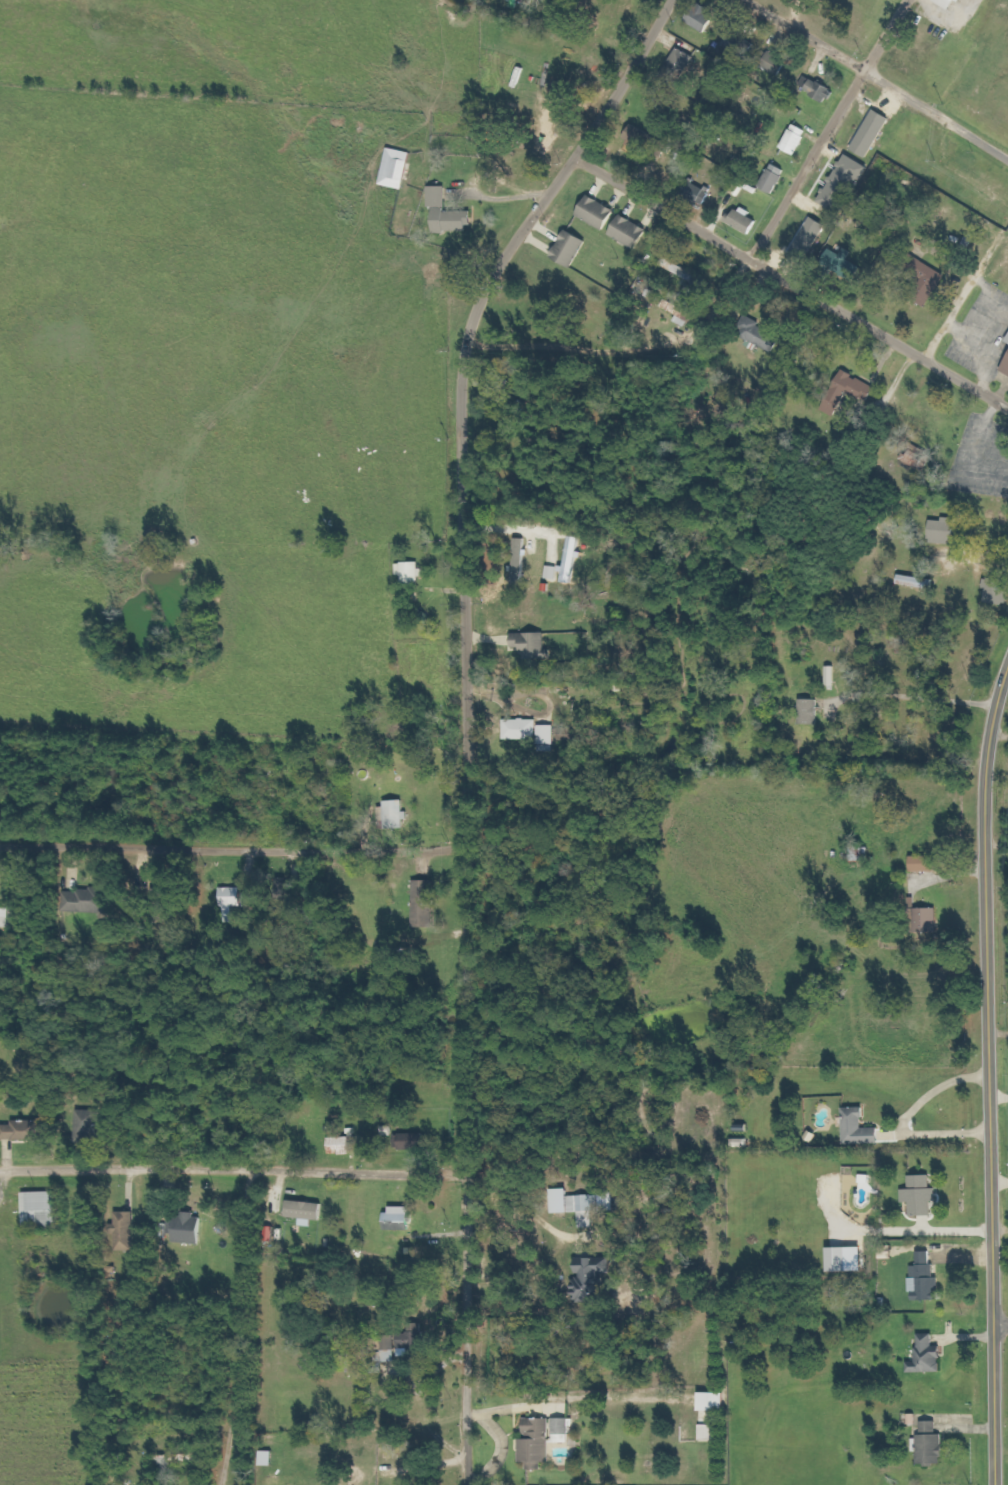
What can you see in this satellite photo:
building: (963, 0)
building: (950, 3)
building: (704, 18)
building: (742, 43)
building: (684, 62)
building: (777, 62)
road: (875, 77)
building: (820, 88)
road: (829, 129)
building: (874, 133)
building: (798, 139)
building: (649, 142)
building: (398, 168)
building: (776, 178)
building: (847, 184)
building: (701, 194)
building: (450, 213)
building: (600, 213)
building: (745, 220)
building: (633, 232)
building: (811, 240)
building: (572, 248)
building: (846, 264)
building: (928, 281)
road: (790, 283)
road: (965, 289)
building: (682, 313)
building: (760, 334)
road: (628, 351)
building: (1007, 371)
building: (850, 392)
building: (947, 530)
building: (413, 572)
building: (918, 582)
building: (998, 591)
building: (533, 645)
building: (834, 676)
road: (466, 712)
building: (813, 712)
building: (524, 729)
building: (398, 816)
road: (233, 851)
building: (927, 864)
building: (160, 899)
building: (250, 900)
building: (88, 901)
building: (232, 902)
building: (427, 904)
building: (6, 917)
building: (928, 920)
road: (987, 1073)
building: (91, 1126)
building: (862, 1129)
building: (24, 1131)
building: (413, 1142)
building: (343, 1146)
road: (233, 1168)
building: (923, 1196)
building: (587, 1209)
building: (44, 1211)
building: (308, 1212)
building: (403, 1218)
building: (192, 1229)
building: (128, 1232)
building: (843, 1261)
building: (927, 1278)
building: (593, 1280)
road: (1000, 1323)
building: (420, 1343)
building: (387, 1349)
building: (930, 1357)
building: (717, 1402)
building: (564, 1430)
building: (710, 1432)
building: (930, 1443)
building: (539, 1444)
building: (270, 1458)

